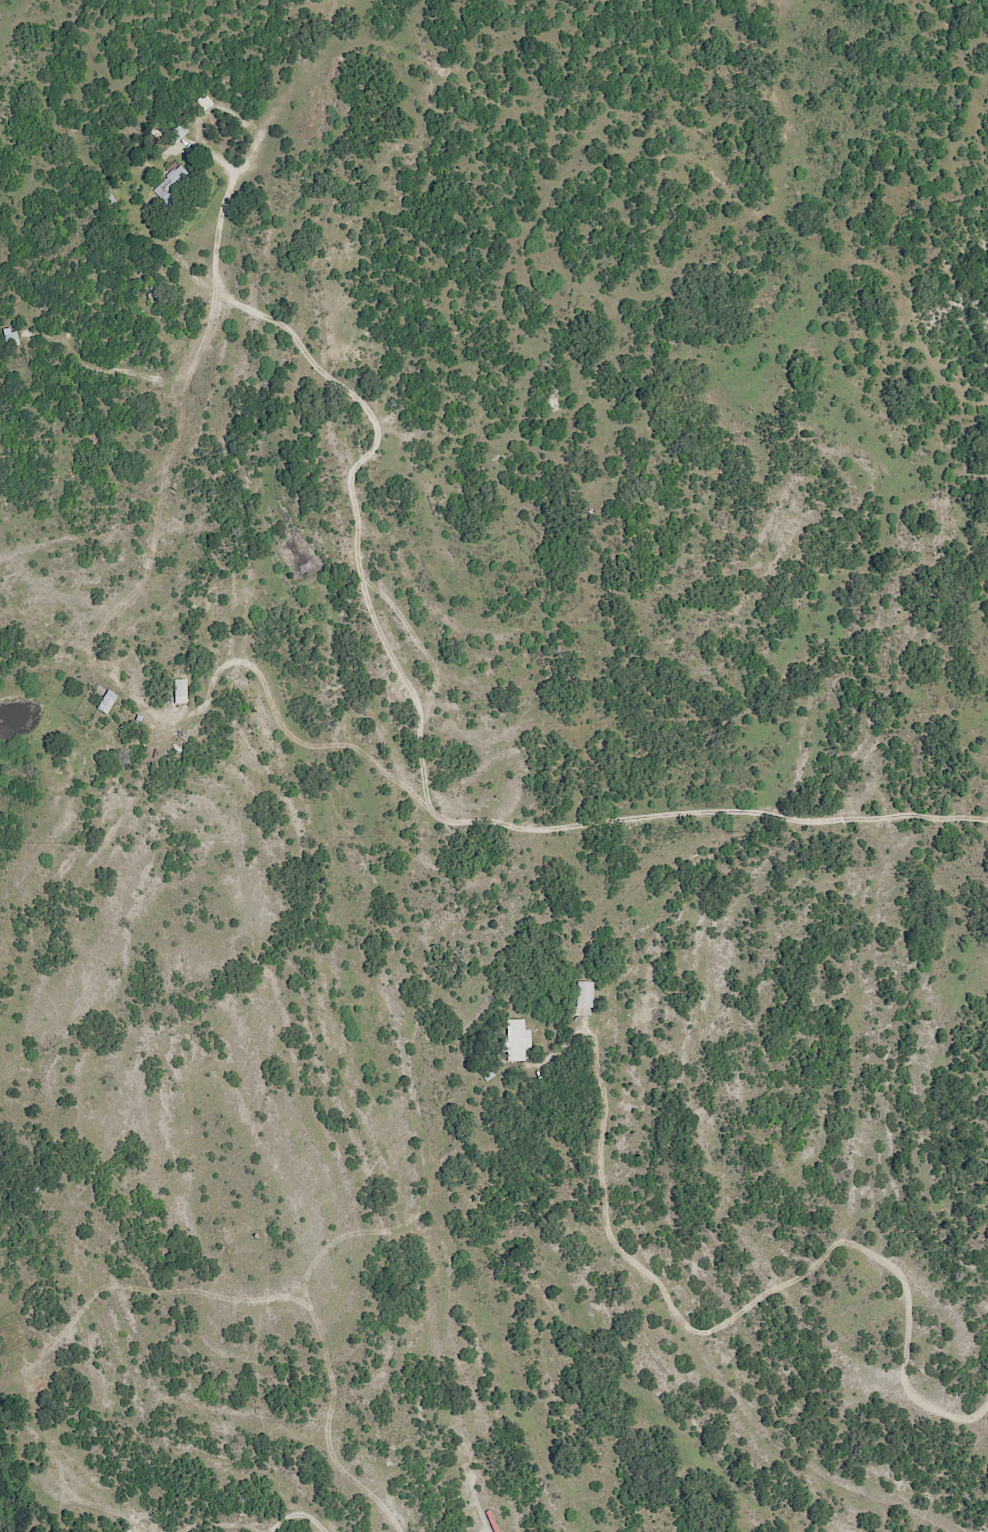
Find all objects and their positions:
building: (206, 101)
building: (181, 129)
building: (172, 182)
road: (270, 310)
building: (14, 337)
road: (146, 372)
building: (183, 691)
building: (110, 702)
road: (500, 819)
building: (588, 995)
building: (520, 1040)
road: (721, 1325)
road: (298, 1512)
road: (394, 1513)

